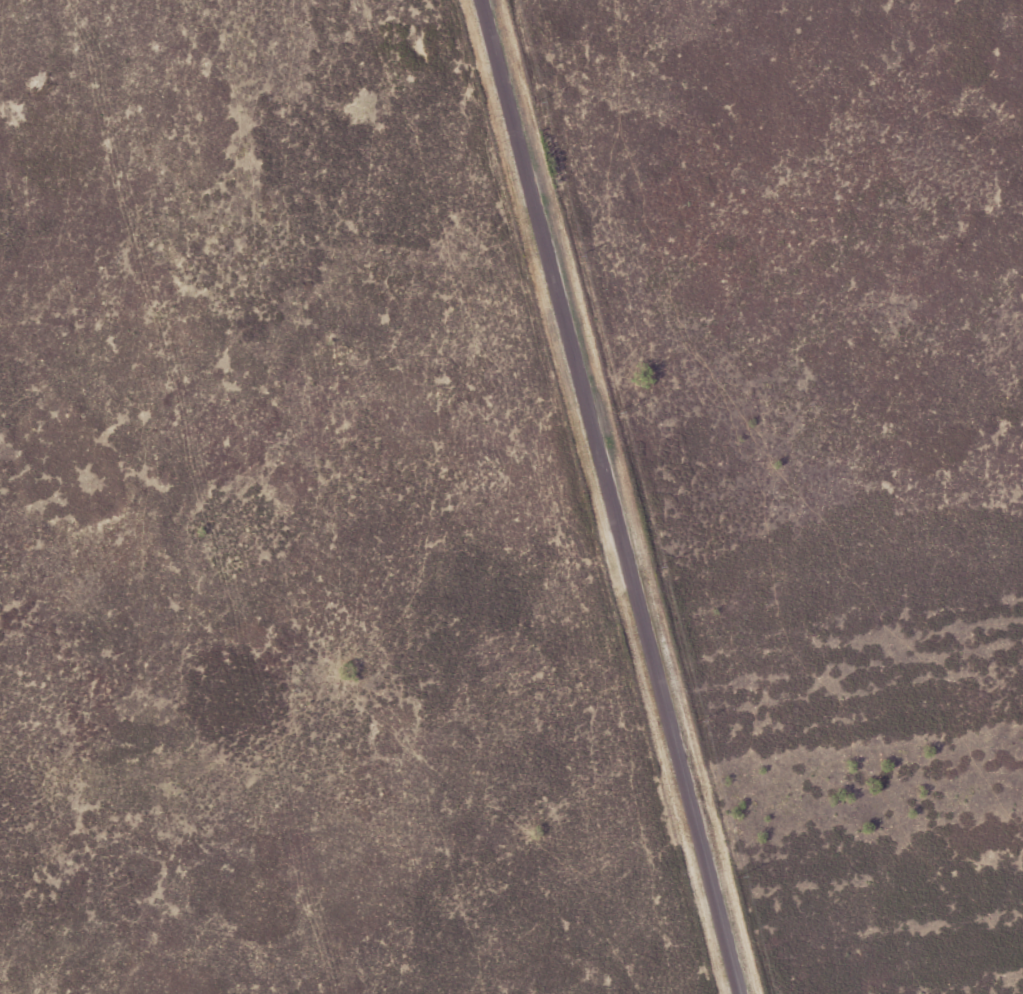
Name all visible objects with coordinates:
road: (591, 495)

